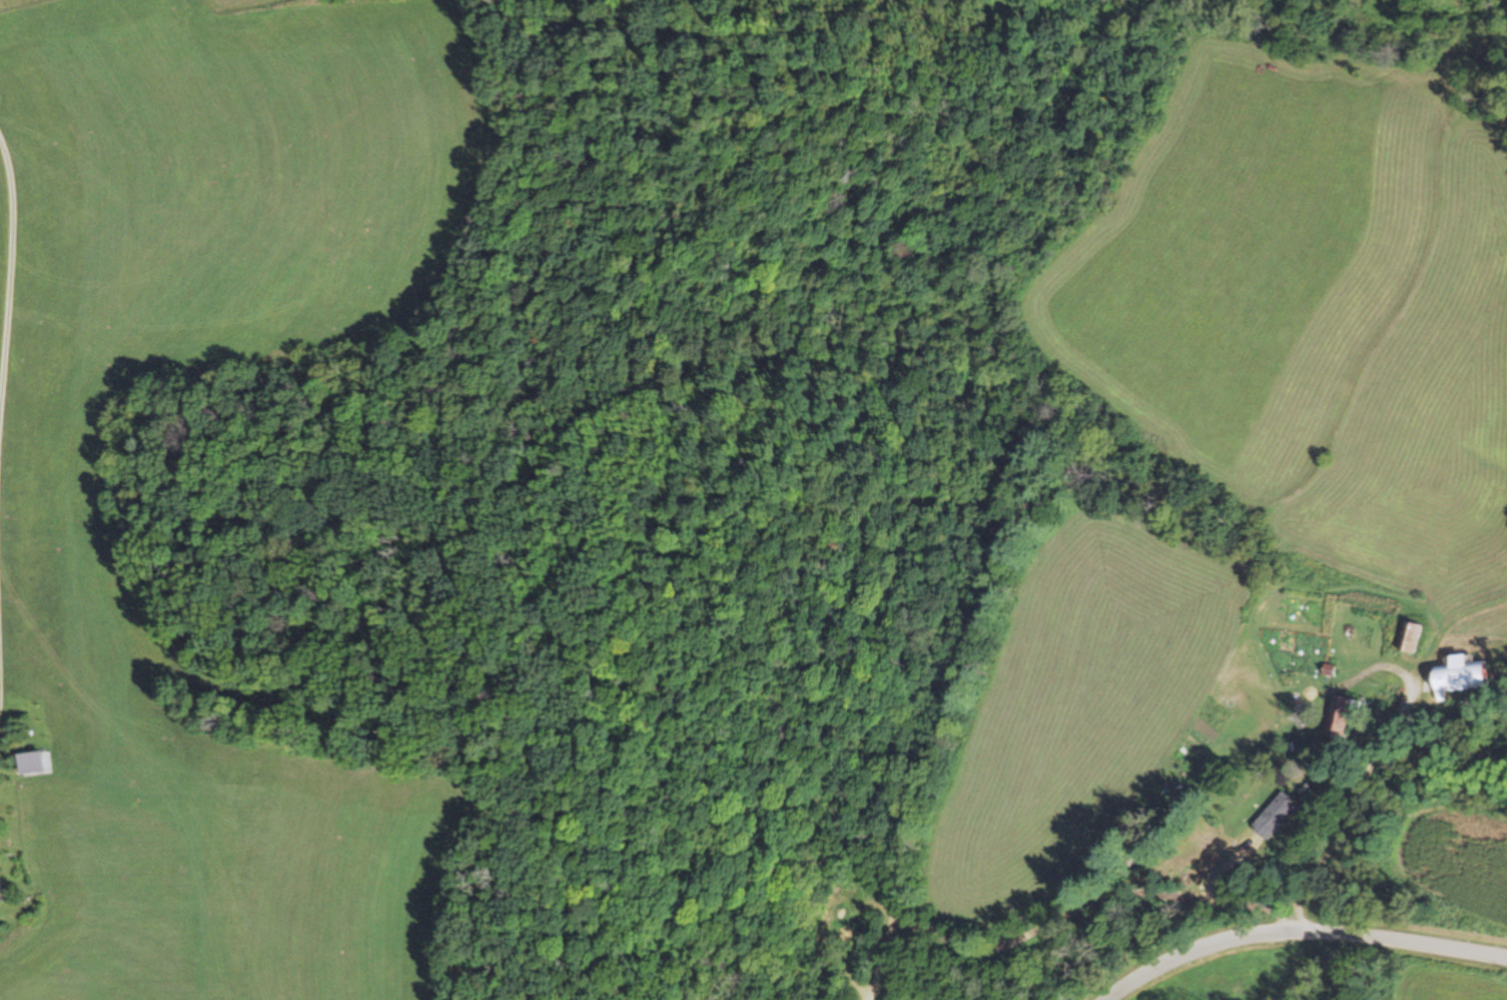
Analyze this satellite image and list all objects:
building: (1409, 637)
building: (1460, 676)
building: (1338, 717)
road: (1335, 811)
building: (1274, 816)
building: (7, 890)
road: (1265, 915)

